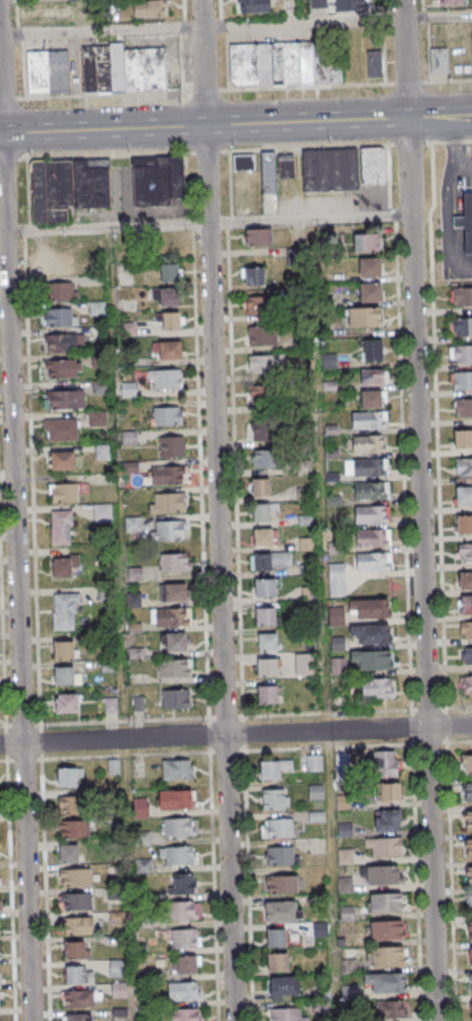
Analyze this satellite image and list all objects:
building: (452, 2)
building: (350, 6)
building: (253, 7)
building: (146, 8)
building: (51, 12)
road: (236, 25)
road: (184, 45)
building: (439, 61)
building: (280, 65)
building: (374, 65)
building: (123, 69)
building: (48, 73)
road: (235, 88)
road: (235, 123)
road: (452, 148)
building: (244, 161)
building: (373, 165)
building: (286, 166)
building: (331, 170)
building: (268, 172)
building: (157, 180)
building: (67, 188)
building: (466, 220)
road: (206, 223)
building: (257, 236)
building: (366, 242)
building: (59, 264)
building: (370, 268)
building: (169, 272)
building: (253, 275)
building: (61, 291)
building: (370, 293)
building: (168, 296)
building: (461, 297)
building: (258, 304)
building: (59, 316)
building: (363, 316)
building: (169, 320)
building: (462, 327)
building: (261, 335)
building: (60, 342)
building: (167, 349)
building: (371, 350)
building: (461, 355)
building: (266, 363)
building: (62, 368)
building: (373, 376)
building: (164, 379)
building: (461, 381)
building: (263, 395)
building: (372, 398)
building: (64, 399)
building: (463, 407)
building: (166, 416)
building: (372, 419)
building: (99, 420)
building: (61, 429)
building: (264, 430)
building: (462, 438)
building: (373, 443)
building: (171, 446)
building: (101, 451)
building: (265, 458)
building: (61, 460)
building: (374, 466)
building: (463, 467)
building: (303, 468)
building: (168, 475)
building: (263, 487)
building: (376, 490)
building: (63, 492)
building: (463, 497)
building: (167, 502)
road: (19, 510)
road: (221, 510)
road: (423, 510)
building: (267, 511)
building: (102, 513)
building: (376, 513)
building: (132, 523)
building: (464, 524)
building: (60, 527)
building: (170, 530)
building: (267, 537)
building: (377, 537)
building: (464, 553)
building: (267, 561)
building: (376, 561)
building: (173, 562)
building: (62, 565)
building: (336, 579)
building: (465, 581)
building: (269, 587)
building: (174, 591)
building: (66, 604)
building: (465, 605)
building: (368, 608)
building: (172, 616)
building: (269, 616)
building: (465, 629)
building: (377, 632)
building: (177, 641)
building: (271, 642)
building: (337, 643)
building: (63, 650)
building: (465, 655)
building: (371, 661)
building: (305, 663)
building: (338, 666)
building: (174, 667)
building: (268, 667)
building: (65, 676)
building: (466, 684)
building: (376, 689)
building: (266, 694)
building: (175, 698)
building: (66, 703)
building: (110, 704)
road: (235, 732)
building: (313, 762)
building: (384, 764)
building: (469, 764)
building: (273, 768)
building: (177, 769)
building: (69, 776)
building: (315, 791)
building: (388, 793)
building: (469, 793)
building: (174, 799)
building: (275, 799)
building: (69, 805)
building: (140, 808)
building: (315, 816)
building: (386, 820)
building: (470, 821)
building: (177, 827)
building: (73, 828)
building: (276, 828)
building: (391, 847)
building: (471, 849)
building: (67, 852)
building: (178, 855)
building: (282, 855)
building: (349, 857)
building: (386, 875)
building: (74, 876)
building: (471, 876)
building: (183, 883)
building: (280, 884)
building: (74, 901)
building: (389, 903)
building: (469, 903)
building: (183, 910)
building: (279, 911)
building: (80, 924)
building: (469, 930)
building: (389, 931)
building: (275, 937)
building: (184, 938)
building: (73, 949)
building: (470, 956)
building: (390, 957)
building: (277, 961)
building: (184, 964)
building: (117, 967)
building: (77, 974)
building: (391, 983)
building: (470, 983)
building: (283, 987)
building: (184, 991)
building: (81, 997)
building: (392, 1009)
building: (471, 1009)
building: (183, 1014)
building: (285, 1014)
building: (78, 1017)

